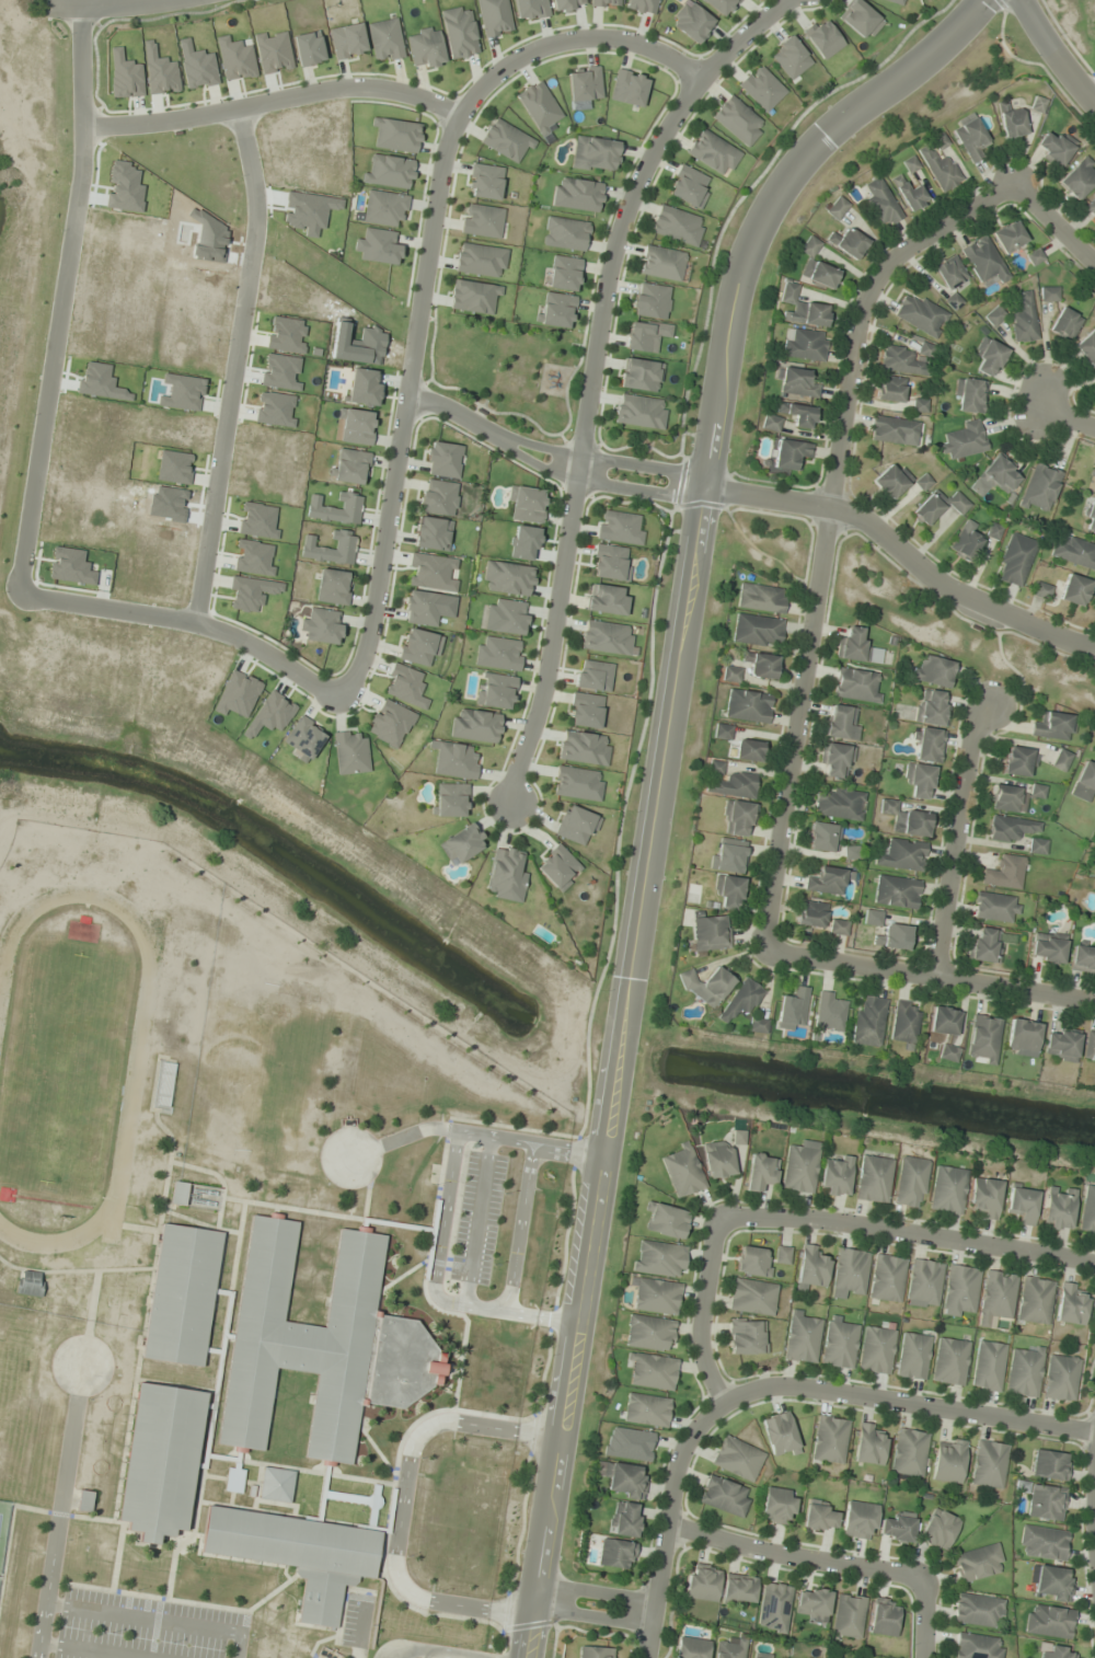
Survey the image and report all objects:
building: (895, 1)
road: (96, 2)
building: (606, 2)
building: (567, 4)
building: (642, 5)
building: (721, 5)
building: (530, 9)
building: (494, 16)
building: (860, 19)
building: (691, 21)
building: (459, 32)
building: (822, 37)
building: (384, 39)
building: (347, 41)
building: (425, 47)
road: (1054, 55)
building: (789, 57)
building: (584, 83)
building: (629, 88)
building: (761, 88)
road: (272, 101)
building: (539, 106)
building: (738, 120)
building: (1012, 123)
building: (396, 135)
building: (970, 137)
building: (506, 140)
building: (1054, 149)
building: (713, 152)
building: (593, 153)
building: (910, 164)
building: (940, 169)
building: (389, 171)
building: (1077, 179)
building: (484, 181)
building: (688, 186)
building: (576, 194)
building: (909, 194)
building: (881, 203)
building: (384, 207)
building: (837, 207)
building: (1091, 207)
building: (482, 220)
building: (677, 224)
road: (1054, 226)
building: (565, 233)
building: (1008, 237)
building: (849, 242)
building: (377, 246)
building: (480, 260)
building: (983, 260)
building: (661, 263)
building: (817, 266)
building: (564, 273)
building: (949, 273)
building: (1049, 293)
building: (474, 297)
road: (62, 299)
building: (652, 300)
building: (803, 308)
building: (557, 310)
building: (920, 314)
building: (994, 315)
building: (1024, 320)
building: (1064, 323)
building: (645, 335)
building: (806, 345)
building: (1087, 347)
building: (989, 356)
building: (907, 359)
road: (235, 365)
building: (641, 375)
road: (592, 376)
building: (797, 383)
building: (890, 389)
building: (969, 395)
building: (639, 411)
building: (798, 414)
road: (1070, 415)
road: (453, 416)
building: (771, 423)
building: (357, 426)
building: (894, 430)
road: (400, 440)
building: (964, 440)
building: (791, 453)
building: (442, 459)
building: (350, 467)
building: (994, 476)
building: (891, 480)
building: (1093, 482)
road: (701, 487)
building: (1039, 487)
building: (438, 497)
building: (527, 505)
building: (938, 505)
building: (1090, 517)
building: (619, 528)
road: (825, 528)
building: (993, 531)
building: (431, 533)
building: (965, 540)
building: (1073, 551)
road: (903, 553)
building: (1016, 560)
building: (610, 562)
building: (431, 572)
building: (507, 578)
building: (333, 587)
building: (1074, 589)
building: (761, 598)
building: (607, 599)
building: (420, 608)
building: (509, 617)
building: (323, 626)
building: (757, 630)
building: (607, 637)
building: (418, 646)
building: (857, 647)
building: (498, 653)
building: (761, 665)
building: (932, 672)
building: (729, 673)
building: (592, 676)
building: (857, 684)
building: (495, 691)
building: (748, 705)
building: (932, 707)
building: (585, 710)
building: (842, 722)
building: (390, 723)
building: (475, 725)
building: (1053, 726)
building: (723, 732)
building: (303, 738)
building: (929, 745)
building: (583, 748)
building: (749, 750)
building: (349, 753)
building: (456, 760)
building: (835, 760)
building: (1060, 760)
building: (1019, 761)
building: (919, 780)
road: (659, 781)
building: (1084, 782)
building: (577, 784)
building: (734, 785)
building: (1007, 798)
building: (451, 799)
building: (839, 805)
building: (738, 818)
building: (906, 819)
building: (576, 826)
building: (1011, 828)
building: (821, 837)
road: (957, 839)
building: (461, 844)
building: (1037, 847)
building: (901, 855)
building: (728, 856)
building: (558, 867)
building: (504, 873)
building: (1004, 873)
building: (827, 880)
building: (729, 891)
building: (896, 891)
building: (995, 908)
building: (811, 914)
building: (873, 918)
building: (838, 926)
building: (710, 933)
building: (895, 936)
building: (984, 944)
building: (1047, 948)
building: (1083, 958)
road: (929, 975)
building: (706, 986)
building: (740, 1000)
building: (793, 1009)
building: (829, 1012)
building: (868, 1021)
building: (943, 1021)
building: (903, 1022)
building: (758, 1025)
building: (983, 1038)
building: (1022, 1038)
building: (1061, 1045)
building: (1088, 1049)
building: (948, 1052)
building: (717, 1159)
building: (800, 1167)
building: (682, 1171)
building: (760, 1172)
building: (835, 1176)
building: (874, 1179)
building: (910, 1182)
building: (948, 1189)
building: (177, 1193)
building: (984, 1198)
building: (1022, 1204)
building: (1059, 1208)
building: (1087, 1211)
building: (666, 1221)
road: (906, 1233)
building: (782, 1255)
building: (658, 1258)
building: (753, 1262)
building: (811, 1266)
building: (850, 1271)
building: (887, 1278)
building: (924, 1281)
building: (28, 1283)
building: (959, 1290)
building: (181, 1296)
building: (656, 1296)
building: (752, 1297)
building: (996, 1298)
building: (1035, 1300)
building: (1070, 1304)
building: (649, 1334)
building: (803, 1336)
building: (747, 1337)
building: (839, 1343)
building: (320, 1344)
building: (876, 1350)
building: (913, 1356)
building: (949, 1361)
building: (988, 1366)
building: (652, 1371)
building: (1025, 1371)
building: (1060, 1378)
road: (908, 1403)
building: (646, 1409)
road: (694, 1430)
building: (777, 1434)
building: (829, 1440)
building: (629, 1444)
building: (868, 1444)
building: (909, 1452)
building: (737, 1459)
building: (948, 1460)
building: (160, 1461)
building: (989, 1464)
building: (1049, 1465)
building: (623, 1481)
building: (275, 1484)
building: (724, 1496)
road: (1094, 1499)
building: (1042, 1500)
building: (84, 1501)
building: (777, 1505)
building: (820, 1517)
building: (624, 1519)
building: (858, 1520)
building: (897, 1527)
building: (937, 1530)
building: (1042, 1543)
building: (297, 1554)
building: (615, 1554)
road: (791, 1556)
building: (977, 1563)
building: (702, 1582)
building: (1051, 1584)
road: (597, 1590)
building: (738, 1590)
building: (811, 1604)
building: (773, 1608)
building: (977, 1610)
road: (592, 1616)
building: (848, 1616)
building: (883, 1616)
road: (924, 1616)
building: (1048, 1622)
building: (977, 1646)
building: (691, 1648)
building: (730, 1648)
building: (1056, 1651)
building: (595, 1653)
building: (799, 1657)

